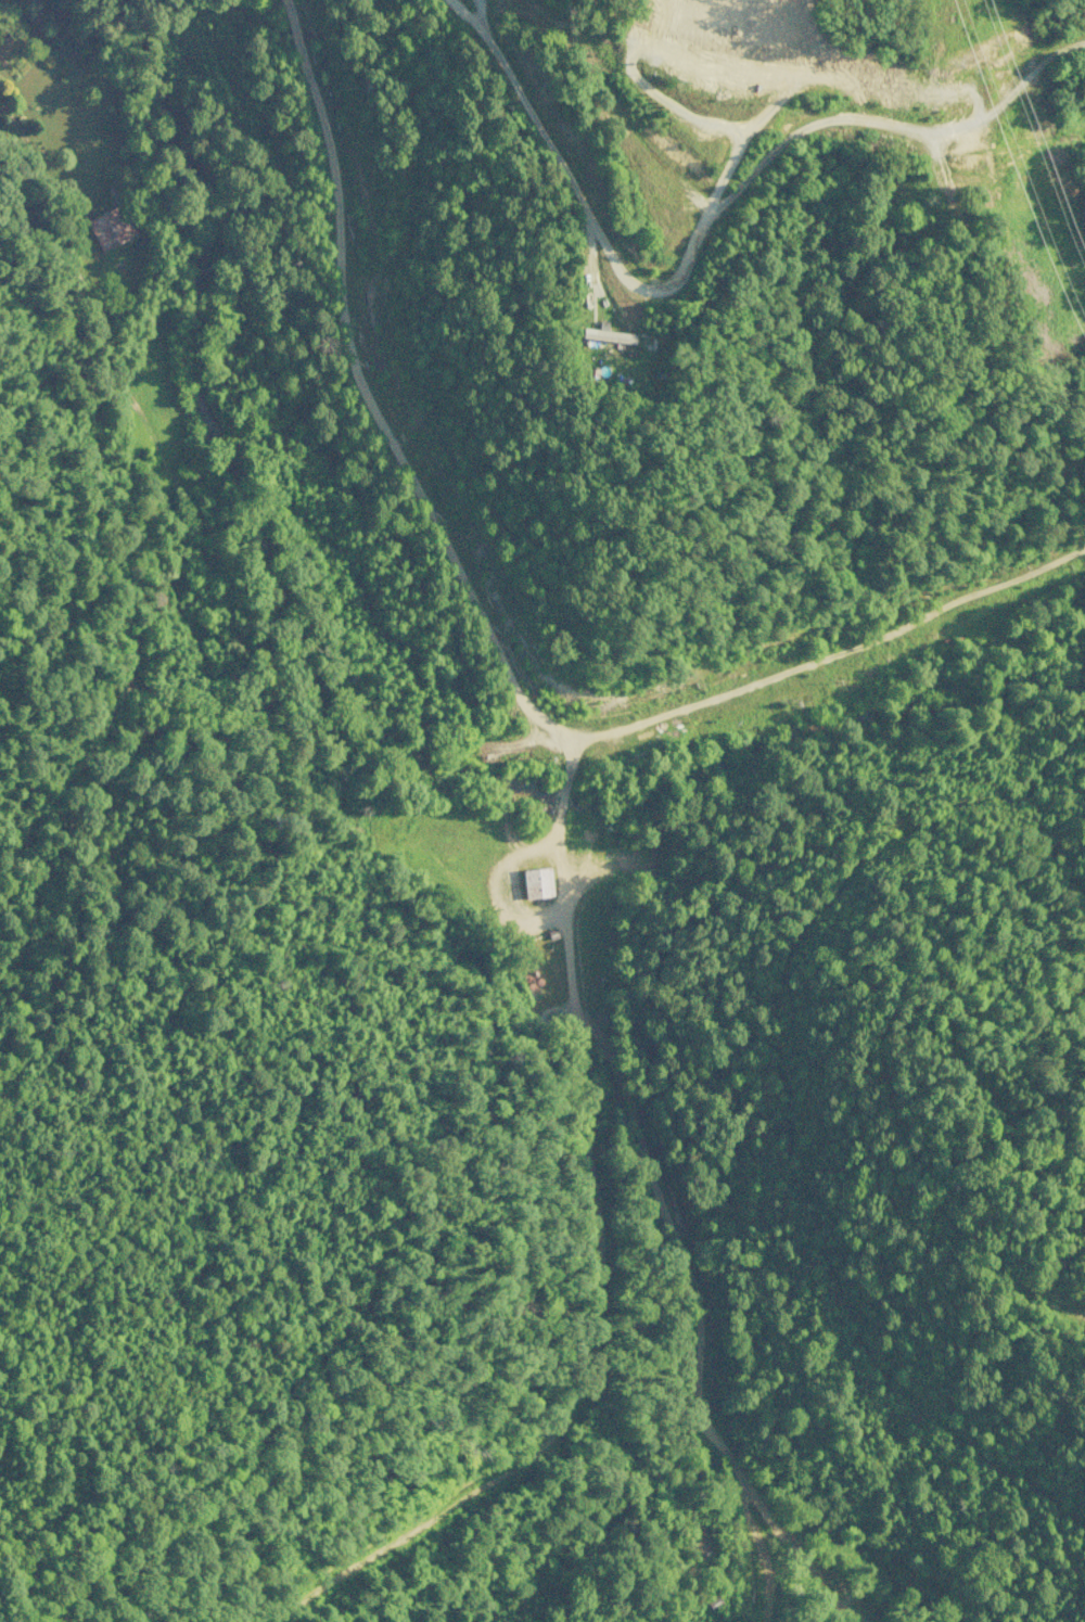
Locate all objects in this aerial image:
building: (655, 55)
building: (693, 71)
road: (700, 223)
building: (107, 227)
building: (605, 333)
road: (363, 389)
building: (535, 882)
road: (576, 1001)

